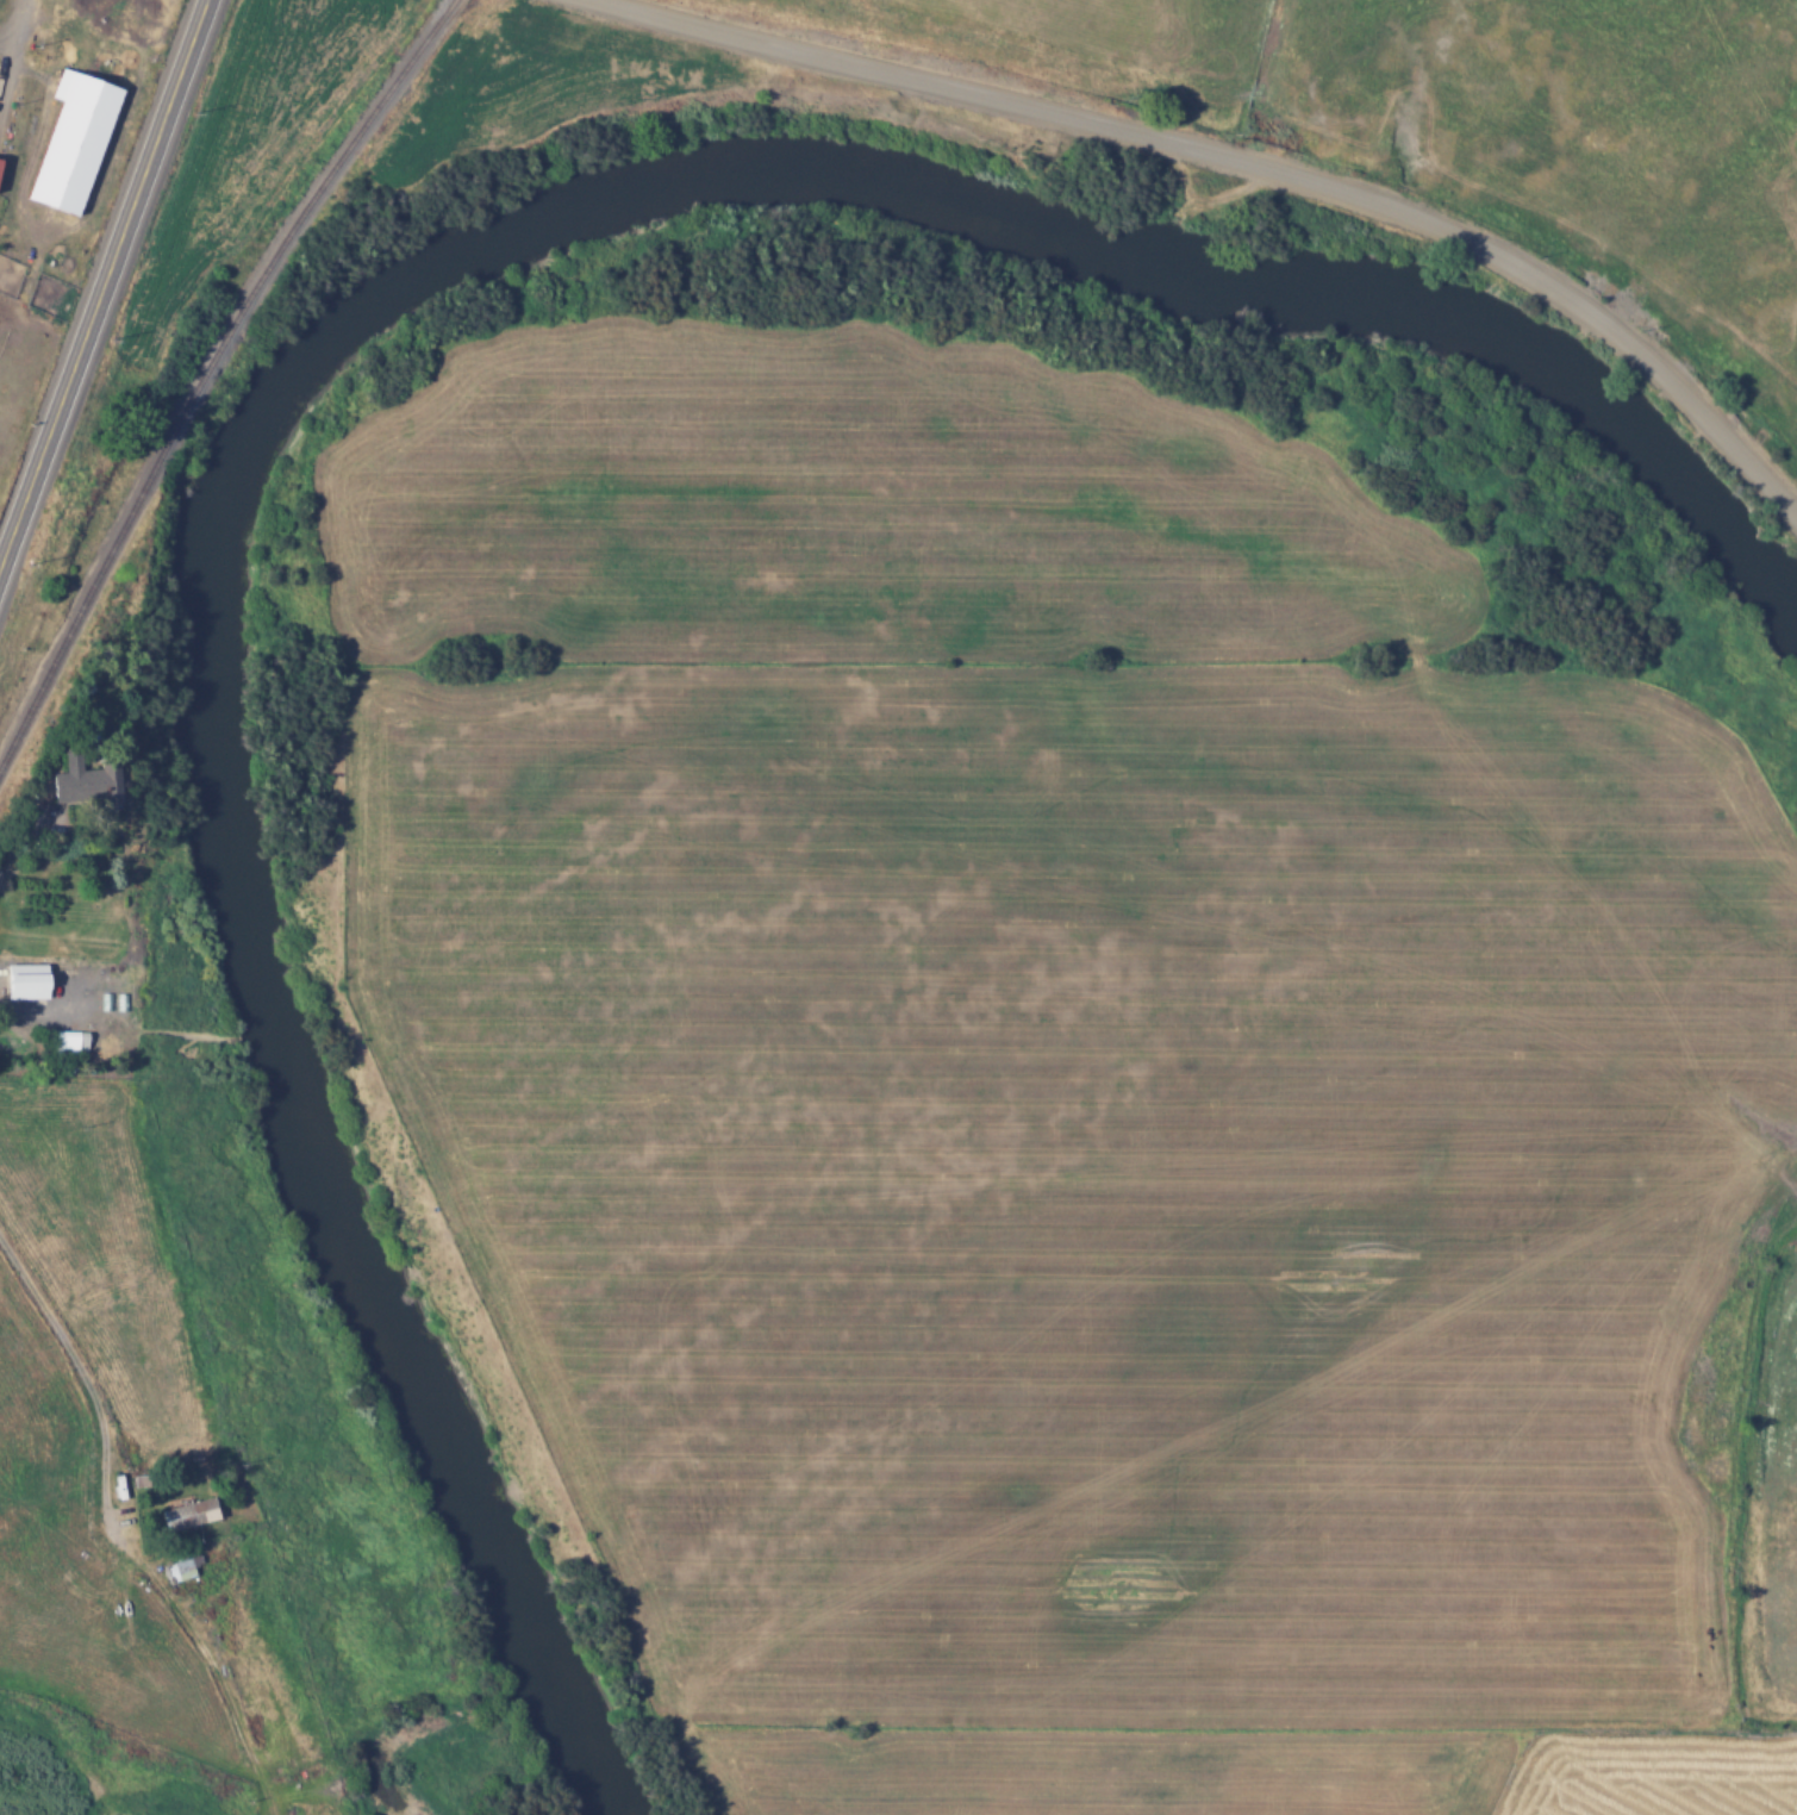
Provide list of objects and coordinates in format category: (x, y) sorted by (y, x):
road: (17, 19)
building: (71, 139)
building: (0, 157)
road: (1248, 162)
road: (104, 282)
river: (342, 328)
railway: (202, 368)
building: (71, 779)
building: (24, 980)
road: (38, 1002)
building: (68, 1043)
building: (188, 1514)
building: (182, 1567)

